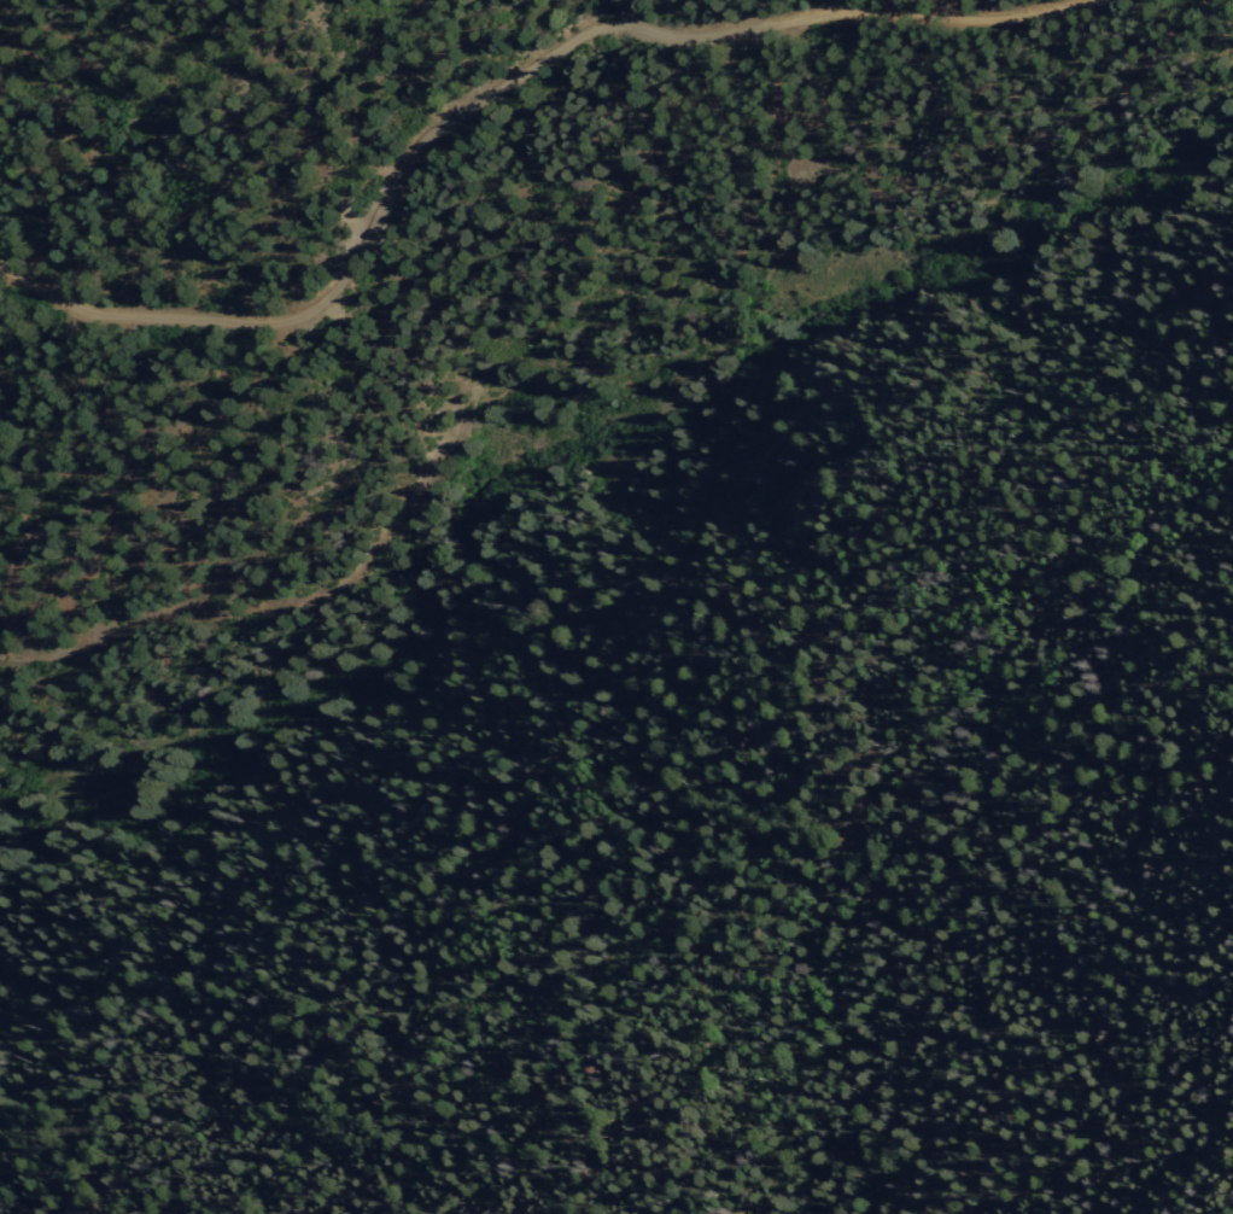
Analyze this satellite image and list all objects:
road: (317, 169)

